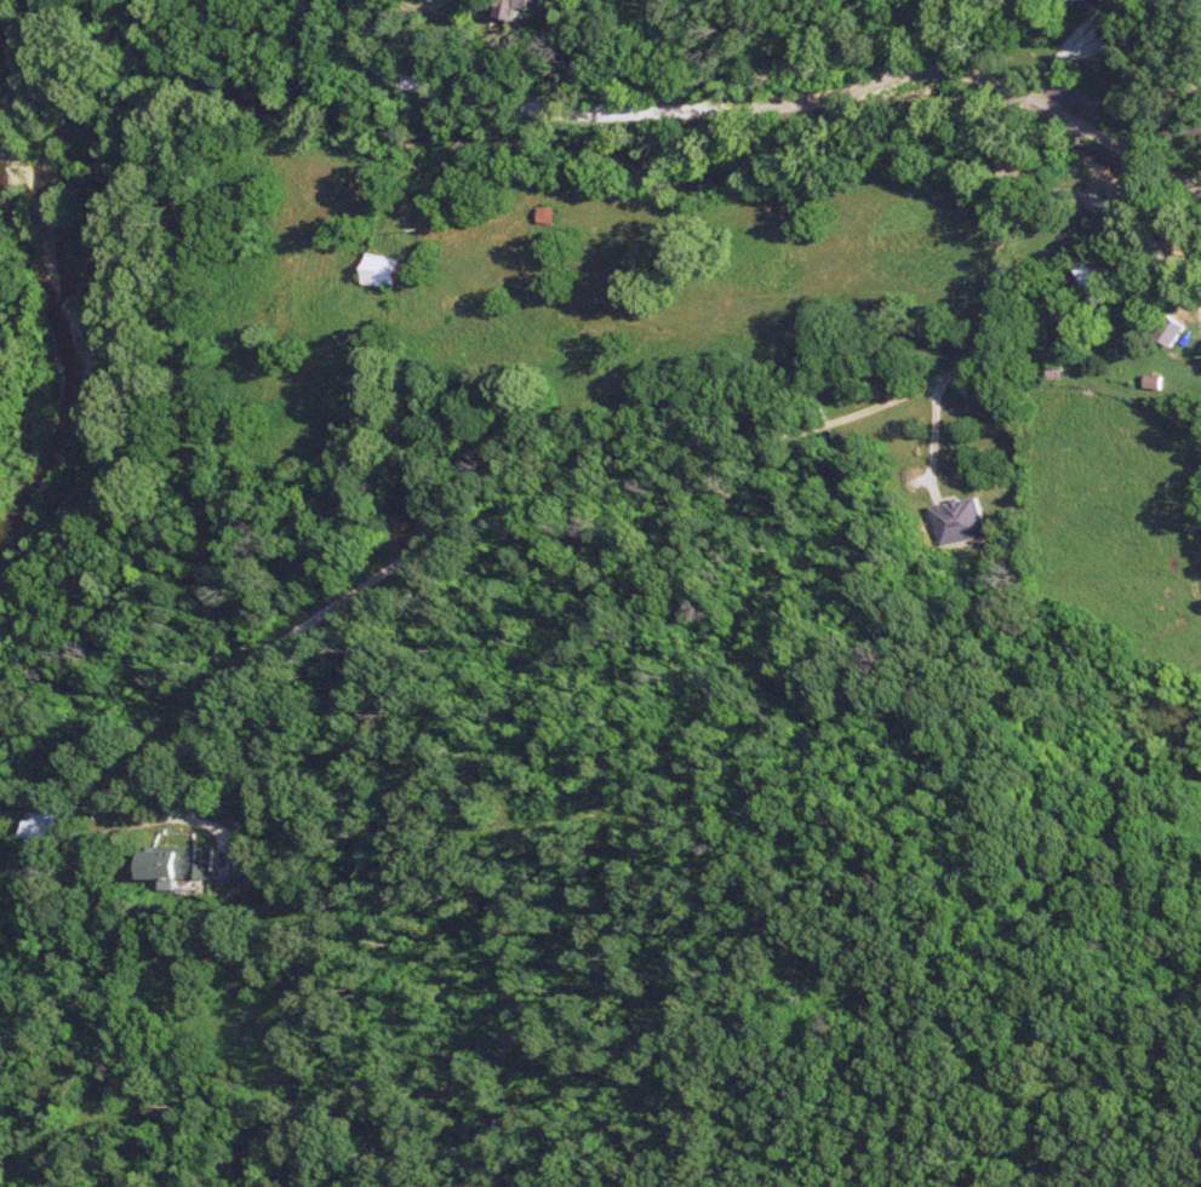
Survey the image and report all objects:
building: (1090, 5)
building: (525, 7)
building: (1121, 33)
road: (989, 81)
road: (1019, 108)
road: (521, 109)
road: (1126, 113)
road: (1005, 130)
road: (1000, 155)
road: (1114, 220)
building: (385, 271)
river: (68, 329)
building: (1174, 331)
building: (962, 521)
road: (524, 528)
building: (55, 832)
building: (187, 865)

